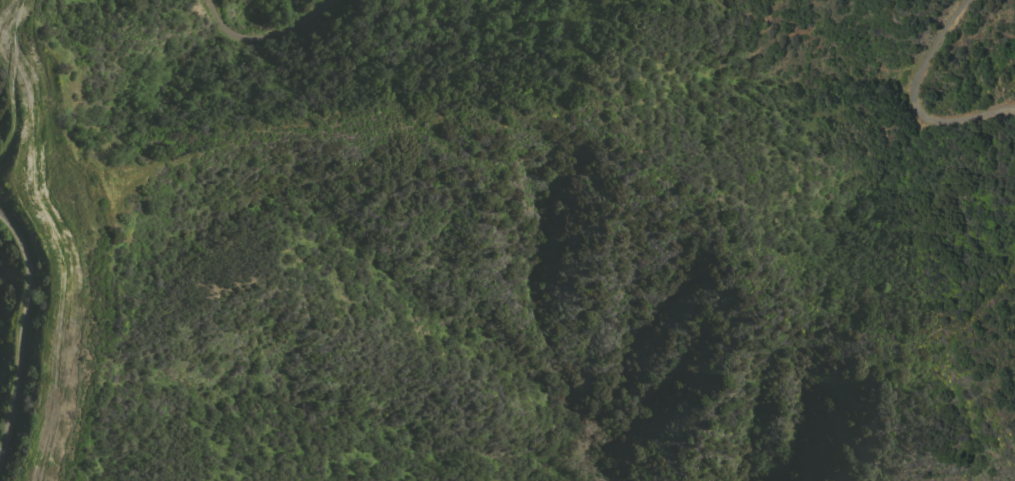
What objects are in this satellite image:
road: (265, 39)
road: (910, 102)
road: (13, 108)
road: (58, 236)
road: (21, 330)

